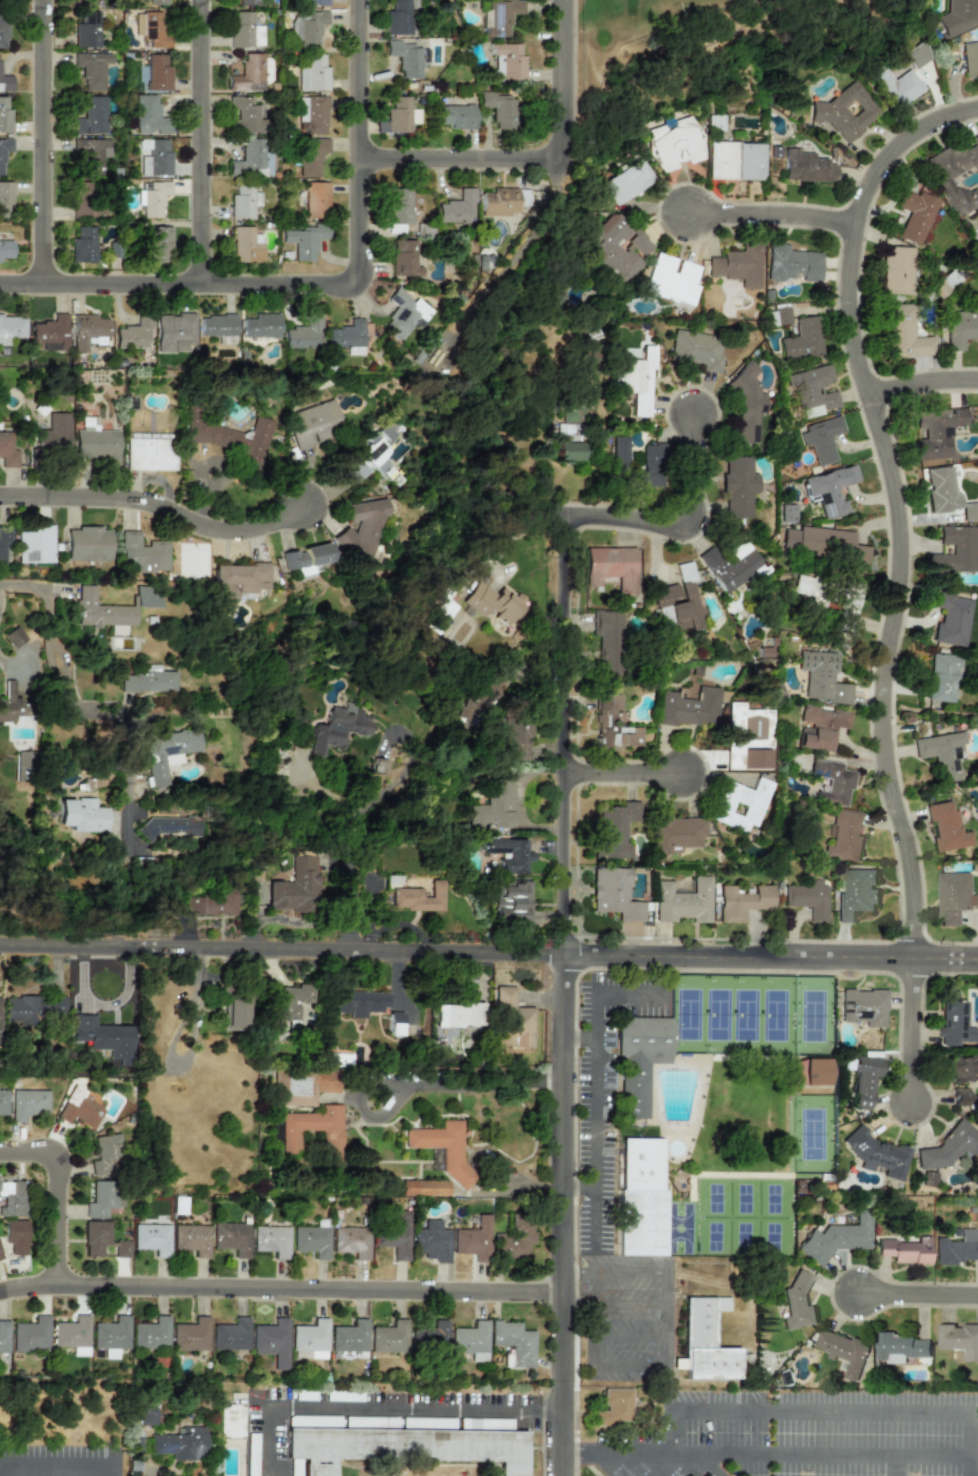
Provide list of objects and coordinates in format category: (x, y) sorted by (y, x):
building: (2, 2)
building: (88, 2)
building: (158, 2)
building: (247, 2)
building: (312, 2)
building: (500, 17)
building: (958, 17)
building: (398, 18)
building: (152, 28)
building: (307, 28)
building: (3, 30)
building: (86, 30)
building: (244, 31)
building: (918, 56)
building: (406, 58)
building: (970, 59)
building: (507, 63)
building: (91, 69)
building: (266, 71)
building: (157, 73)
building: (246, 73)
building: (313, 74)
road: (564, 75)
building: (6, 83)
building: (896, 86)
building: (499, 109)
building: (846, 111)
building: (311, 114)
building: (4, 115)
building: (243, 115)
building: (149, 116)
building: (457, 116)
building: (90, 117)
building: (399, 117)
road: (363, 140)
road: (43, 141)
road: (204, 141)
building: (675, 144)
road: (463, 149)
building: (4, 150)
building: (89, 155)
building: (311, 156)
building: (251, 160)
building: (736, 161)
building: (806, 167)
building: (954, 174)
building: (626, 181)
building: (5, 198)
building: (84, 199)
building: (154, 199)
building: (315, 199)
building: (243, 201)
building: (503, 201)
road: (772, 203)
building: (457, 208)
building: (398, 210)
building: (915, 216)
building: (303, 241)
building: (158, 244)
building: (83, 245)
building: (245, 245)
building: (617, 248)
building: (5, 249)
building: (403, 258)
building: (792, 264)
building: (738, 266)
building: (897, 270)
building: (671, 279)
road: (181, 282)
building: (404, 314)
building: (781, 315)
building: (217, 325)
building: (260, 326)
building: (962, 326)
building: (11, 328)
building: (87, 331)
building: (49, 333)
building: (174, 333)
building: (133, 334)
building: (304, 334)
building: (903, 334)
building: (348, 337)
building: (802, 340)
building: (696, 350)
road: (922, 373)
building: (634, 380)
building: (812, 391)
building: (747, 402)
building: (571, 413)
building: (314, 424)
building: (937, 432)
building: (53, 433)
building: (821, 439)
building: (96, 443)
building: (7, 450)
building: (567, 452)
building: (619, 453)
building: (149, 454)
building: (372, 456)
building: (649, 468)
building: (739, 487)
building: (831, 490)
building: (947, 494)
road: (155, 497)
road: (895, 497)
building: (788, 513)
road: (687, 524)
building: (362, 533)
road: (515, 534)
building: (4, 540)
building: (822, 543)
building: (87, 544)
building: (35, 545)
building: (955, 550)
building: (143, 551)
building: (306, 558)
building: (729, 564)
building: (611, 567)
building: (239, 579)
building: (811, 590)
building: (144, 596)
building: (678, 602)
building: (493, 603)
building: (847, 603)
building: (101, 612)
building: (949, 617)
building: (14, 636)
building: (608, 641)
building: (941, 676)
building: (822, 677)
building: (147, 680)
building: (485, 689)
building: (10, 703)
building: (690, 707)
road: (85, 710)
building: (820, 727)
building: (337, 730)
building: (746, 733)
building: (619, 737)
building: (515, 738)
building: (168, 751)
building: (942, 754)
building: (22, 766)
building: (377, 766)
road: (620, 766)
building: (832, 781)
building: (741, 804)
building: (493, 807)
building: (82, 815)
building: (169, 826)
building: (946, 827)
building: (614, 830)
building: (676, 833)
building: (845, 837)
road: (348, 845)
building: (509, 854)
building: (295, 887)
building: (614, 894)
building: (857, 895)
building: (418, 897)
building: (953, 897)
building: (808, 899)
building: (511, 901)
building: (684, 901)
building: (743, 902)
building: (210, 903)
road: (290, 922)
road: (488, 949)
road: (559, 991)
building: (358, 1003)
building: (286, 1004)
building: (863, 1007)
building: (31, 1008)
building: (235, 1014)
building: (459, 1015)
building: (513, 1021)
building: (953, 1022)
building: (394, 1024)
road: (912, 1027)
building: (104, 1037)
road: (578, 1037)
building: (0, 1039)
road: (191, 1044)
building: (332, 1059)
building: (640, 1059)
building: (960, 1068)
building: (810, 1071)
building: (863, 1082)
road: (414, 1083)
building: (301, 1085)
road: (597, 1090)
building: (959, 1096)
building: (3, 1102)
building: (28, 1104)
building: (79, 1109)
building: (329, 1142)
building: (441, 1146)
building: (949, 1147)
building: (106, 1155)
building: (878, 1155)
road: (57, 1186)
building: (422, 1187)
road: (577, 1187)
building: (12, 1198)
building: (103, 1198)
building: (641, 1198)
building: (393, 1235)
building: (15, 1236)
building: (96, 1237)
building: (152, 1238)
building: (231, 1238)
building: (837, 1238)
building: (192, 1239)
building: (513, 1239)
building: (271, 1240)
building: (472, 1240)
building: (311, 1241)
building: (351, 1241)
building: (431, 1241)
building: (958, 1248)
building: (121, 1249)
building: (906, 1251)
building: (0, 1257)
road: (611, 1273)
road: (278, 1287)
road: (917, 1293)
road: (628, 1303)
building: (798, 1304)
road: (665, 1324)
building: (71, 1332)
building: (150, 1334)
road: (630, 1334)
building: (31, 1335)
building: (190, 1335)
building: (230, 1335)
building: (430, 1335)
building: (110, 1336)
building: (4, 1337)
building: (349, 1337)
building: (389, 1337)
building: (310, 1338)
building: (960, 1339)
building: (470, 1340)
building: (271, 1342)
building: (513, 1342)
building: (705, 1342)
building: (900, 1348)
building: (844, 1351)
road: (610, 1372)
building: (614, 1407)
road: (822, 1408)
road: (374, 1409)
building: (144, 1416)
building: (229, 1421)
road: (672, 1427)
road: (971, 1433)
building: (179, 1444)
building: (404, 1447)
road: (567, 1448)
road: (624, 1449)
road: (684, 1450)
road: (834, 1452)
road: (64, 1460)
road: (709, 1463)
road: (896, 1465)
road: (970, 1466)
building: (705, 1475)

